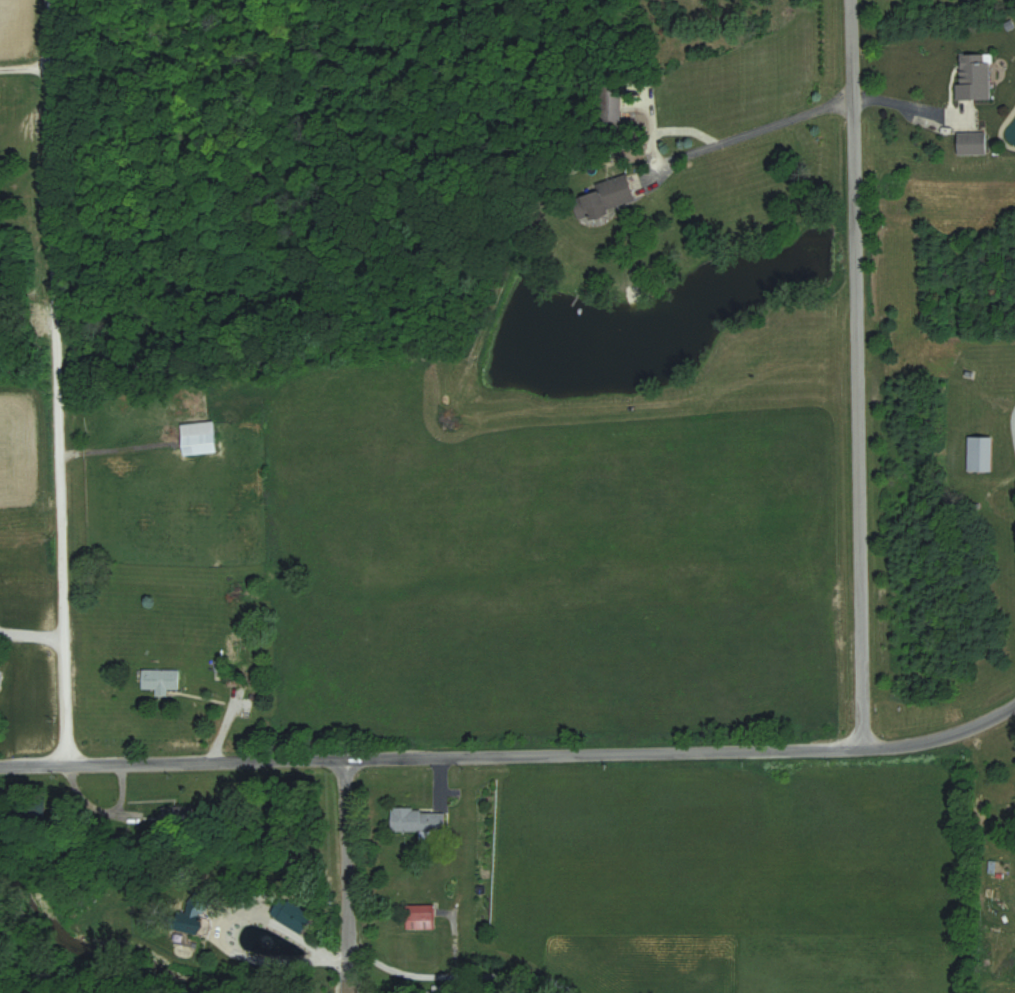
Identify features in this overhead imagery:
road: (25, 65)
building: (974, 76)
road: (802, 112)
building: (972, 143)
building: (607, 197)
road: (855, 375)
road: (56, 383)
road: (1007, 429)
building: (198, 438)
building: (979, 453)
road: (113, 455)
building: (160, 680)
road: (227, 728)
road: (512, 758)
building: (418, 820)
road: (346, 874)
building: (419, 917)
road: (282, 937)
road: (420, 988)

